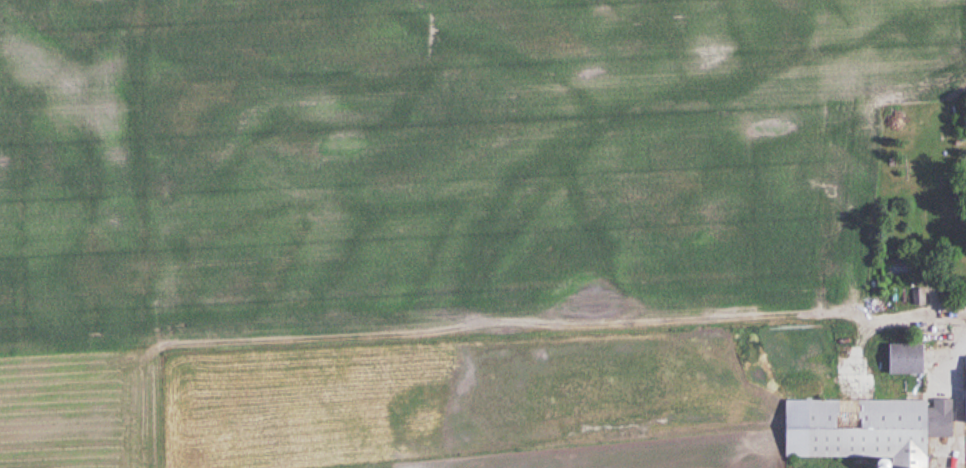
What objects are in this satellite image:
building: (894, 268)
building: (902, 360)
building: (964, 390)
road: (955, 399)
building: (863, 429)

